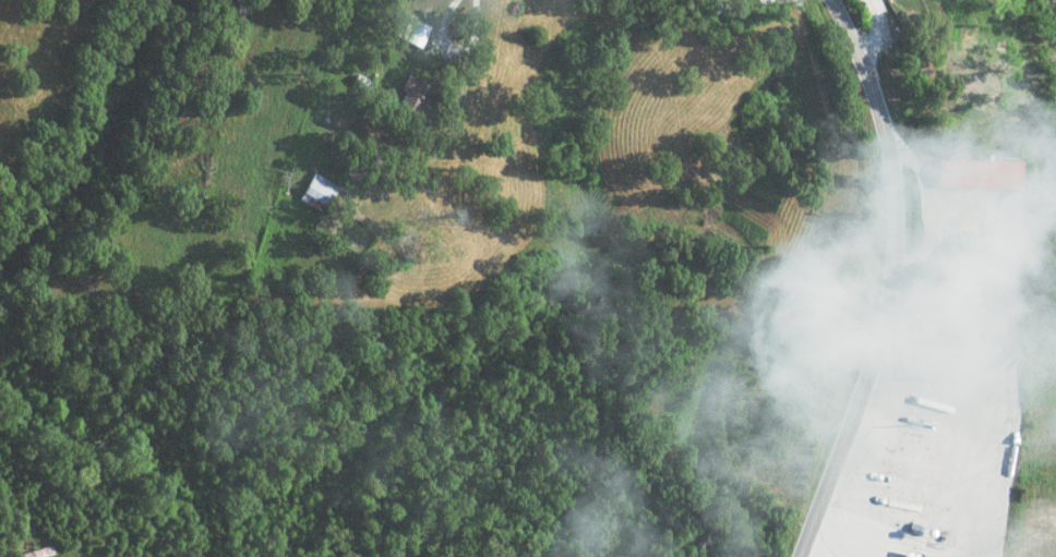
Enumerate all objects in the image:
road: (447, 51)
building: (411, 100)
building: (974, 173)
building: (315, 191)
road: (890, 280)
building: (899, 556)

